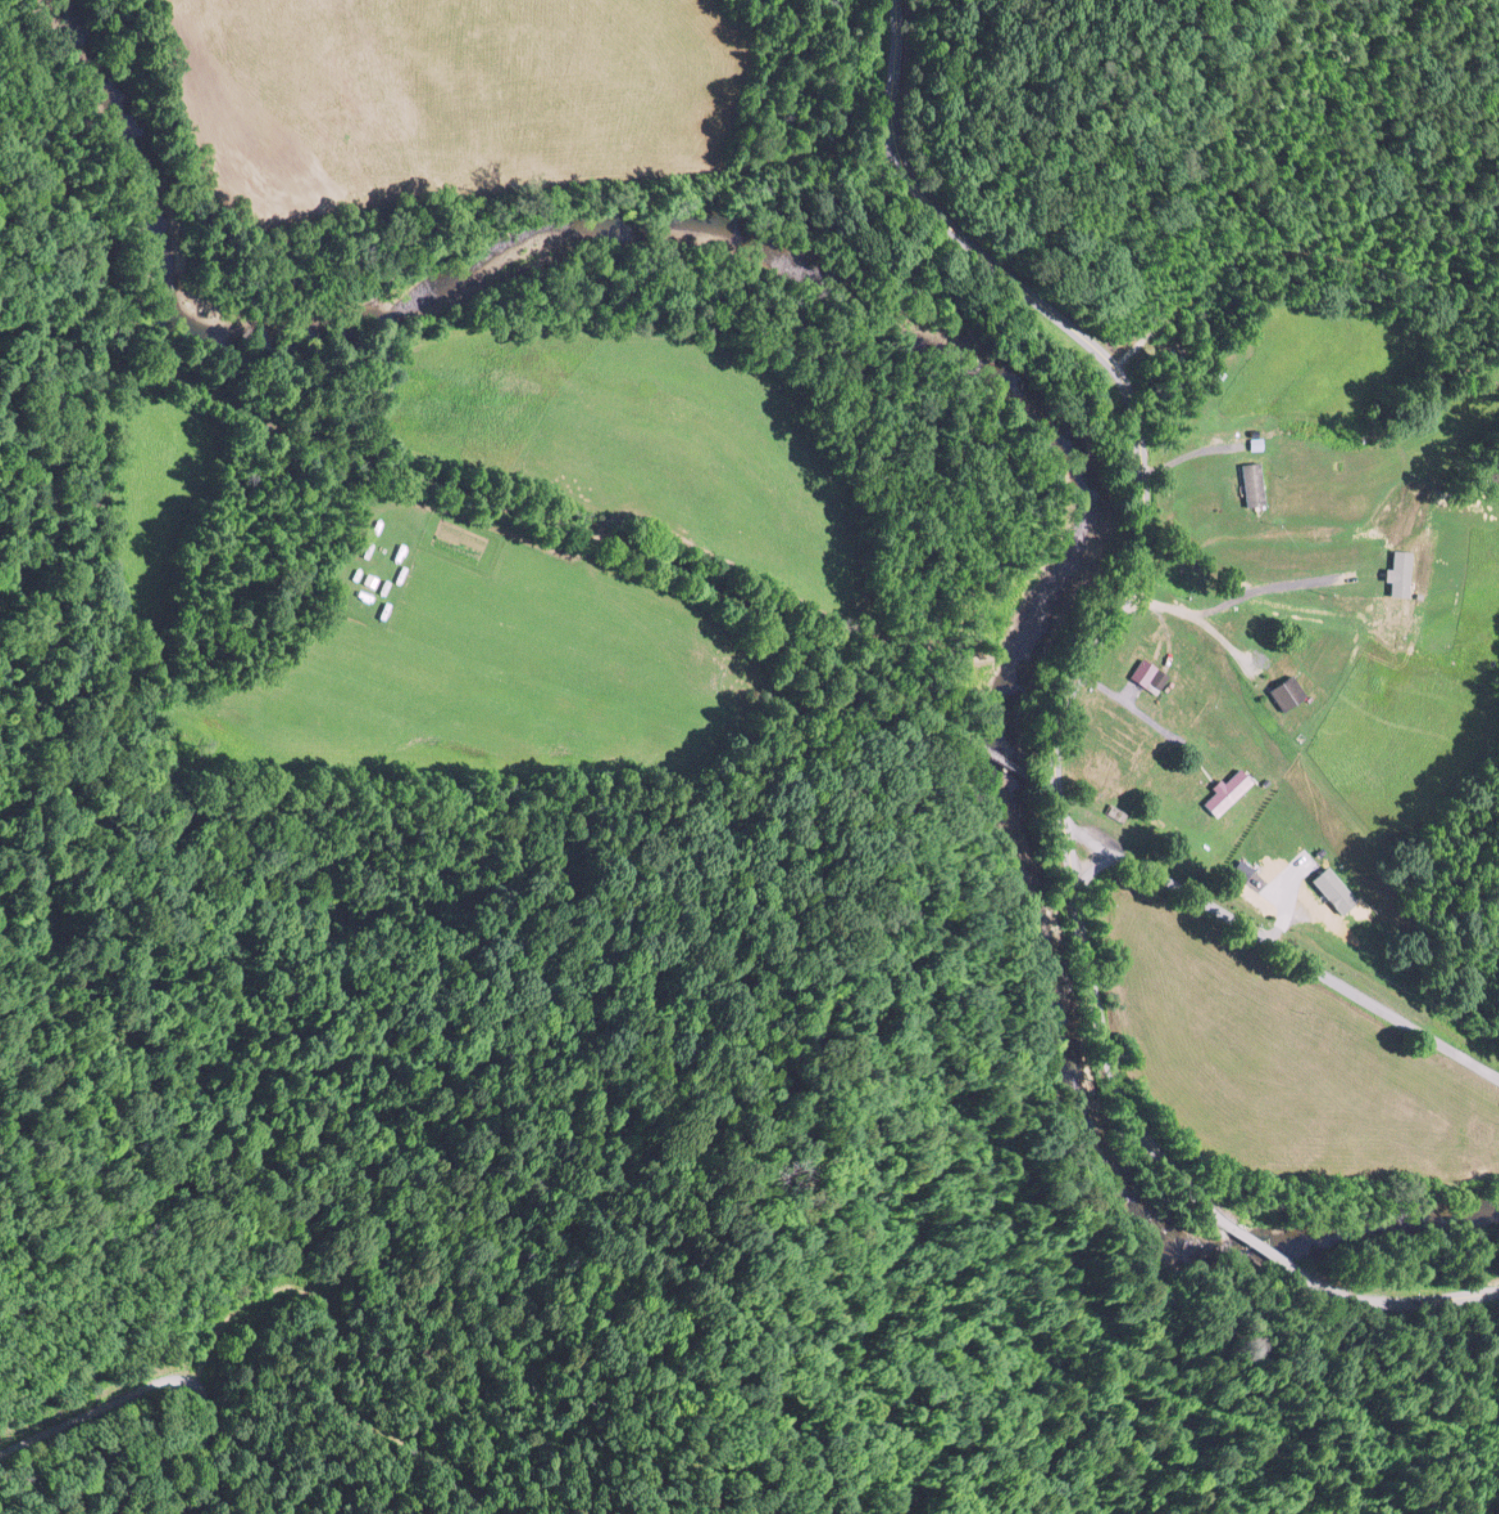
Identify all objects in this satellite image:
crop: (441, 97)
road: (1182, 455)
building: (1254, 482)
road: (1126, 593)
road: (1198, 614)
building: (1149, 674)
building: (1285, 687)
road: (1123, 697)
building: (1229, 789)
road: (1084, 834)
road: (1090, 867)
building: (1290, 873)
building: (1330, 900)
road: (1305, 963)
road: (1265, 1251)
road: (1398, 1300)
road: (191, 1368)

